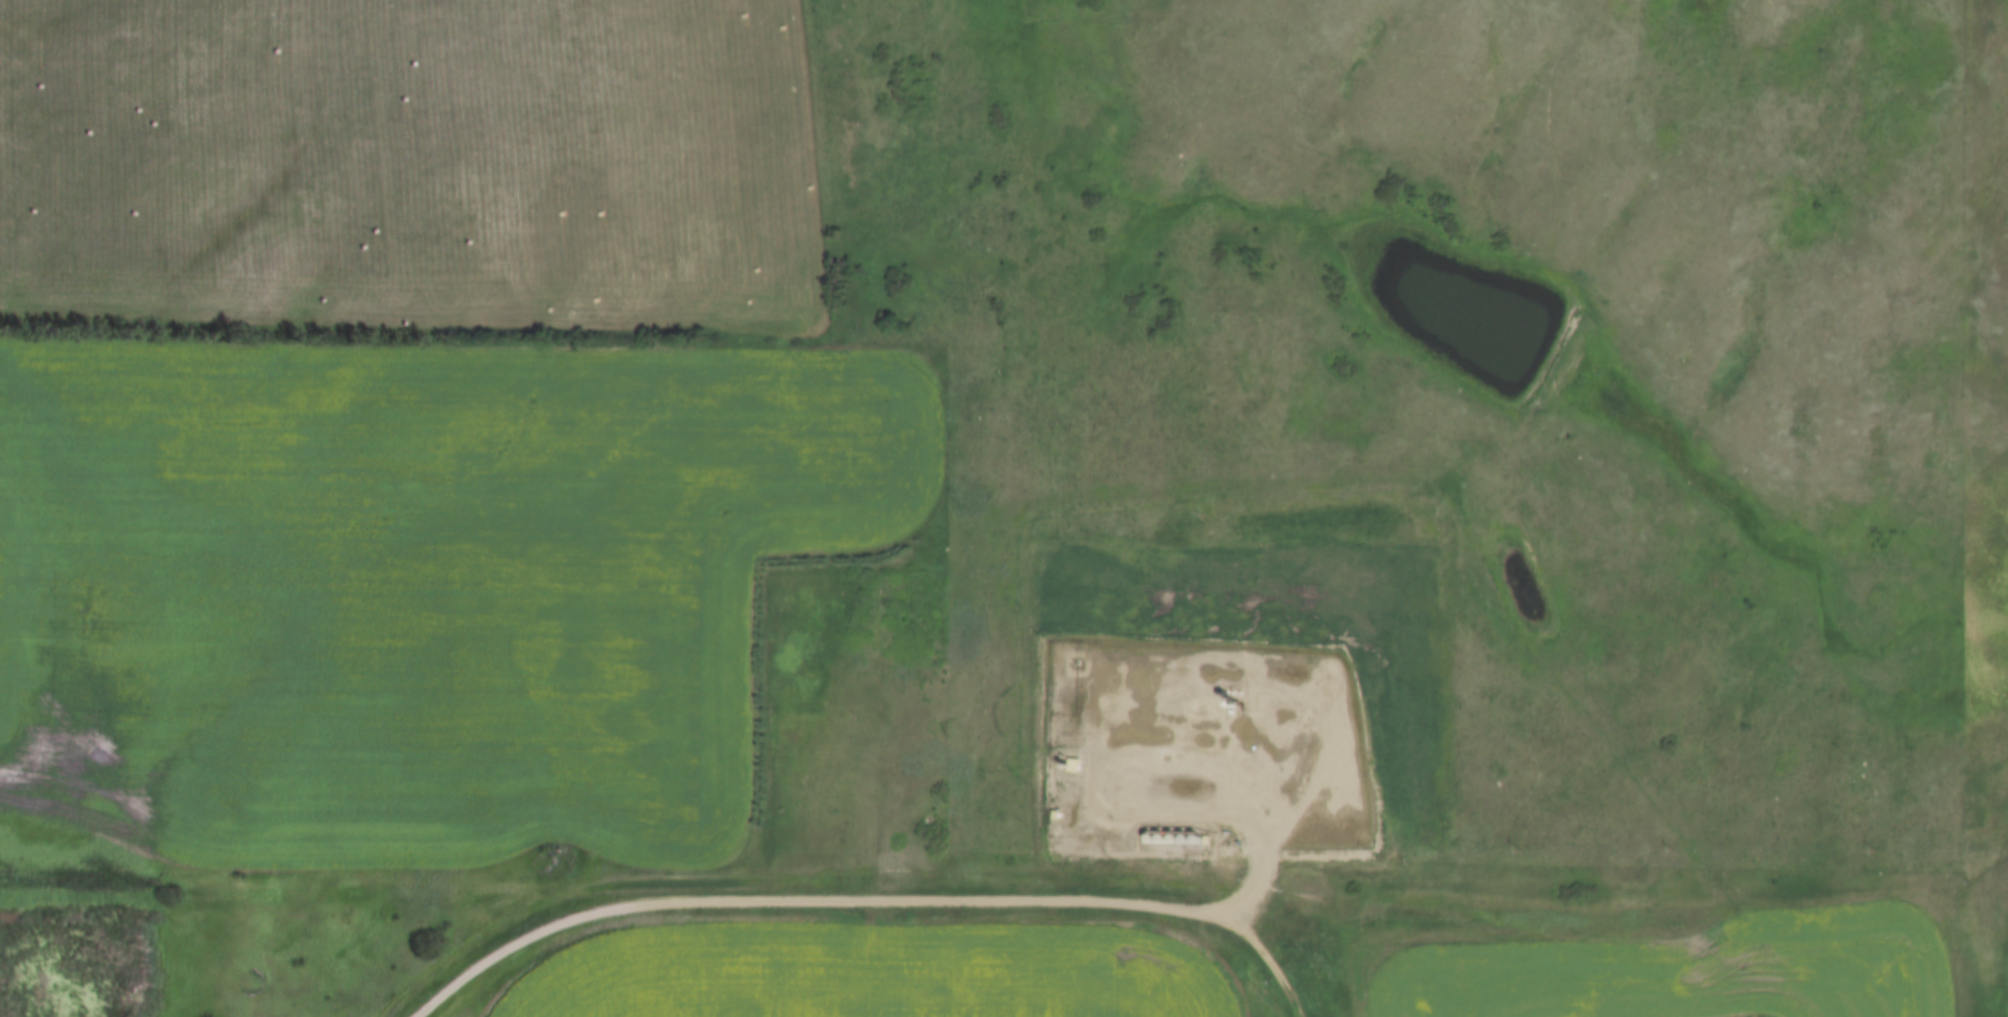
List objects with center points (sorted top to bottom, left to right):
road: (841, 898)
road: (1284, 997)

